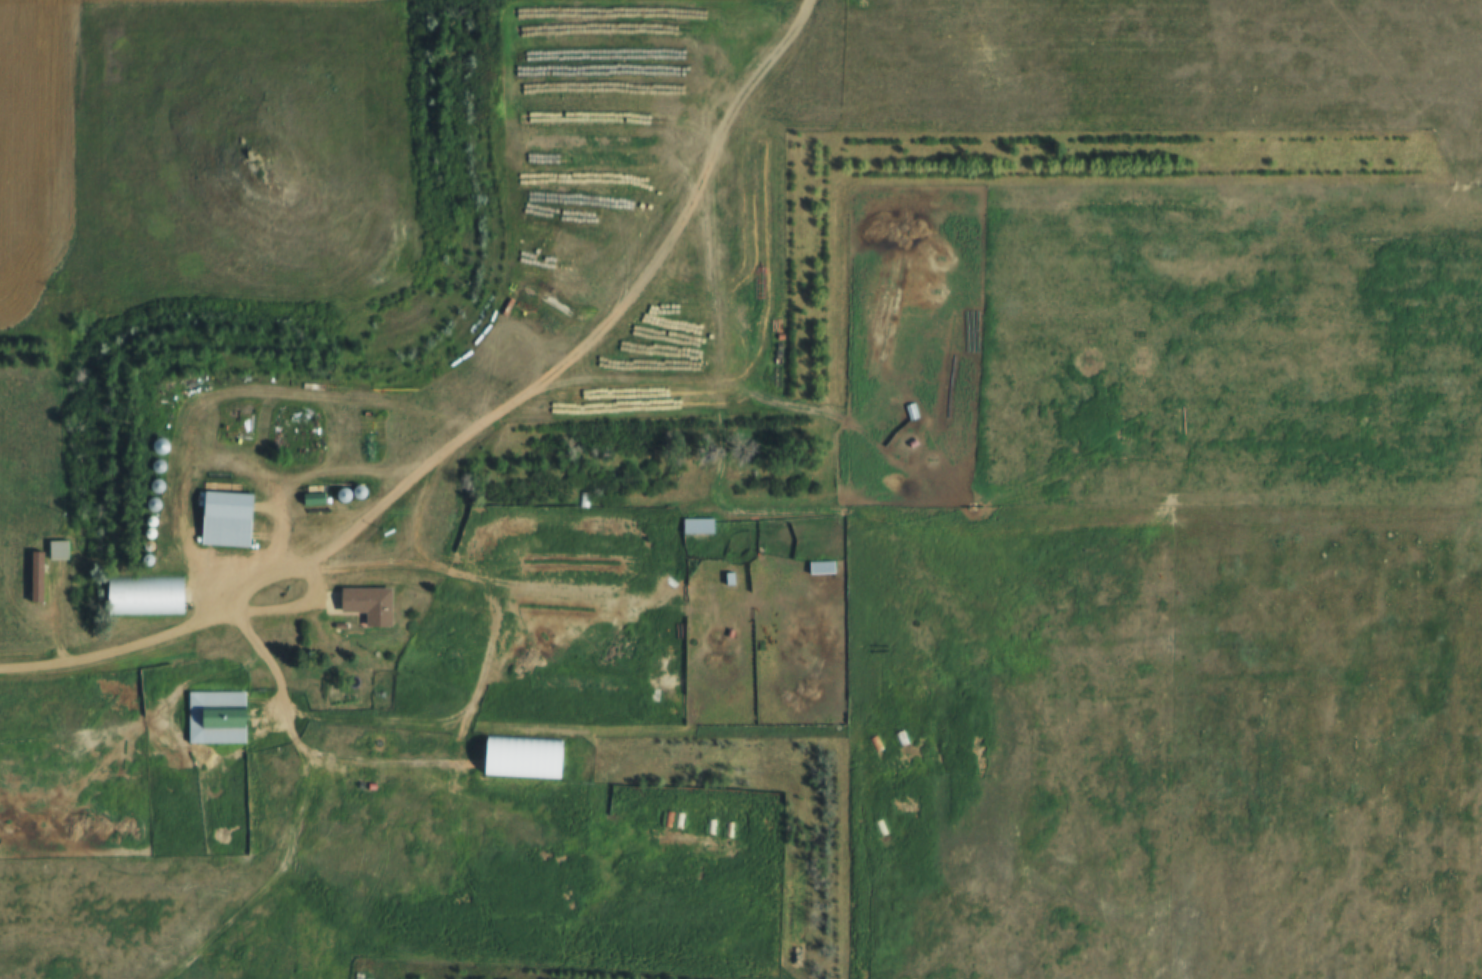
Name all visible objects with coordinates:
road: (592, 332)
building: (154, 445)
building: (581, 497)
building: (310, 498)
building: (222, 518)
building: (694, 525)
building: (818, 567)
building: (37, 575)
building: (141, 594)
building: (363, 603)
road: (147, 648)
building: (213, 716)
road: (455, 732)
building: (894, 737)
road: (246, 805)
building: (671, 821)

